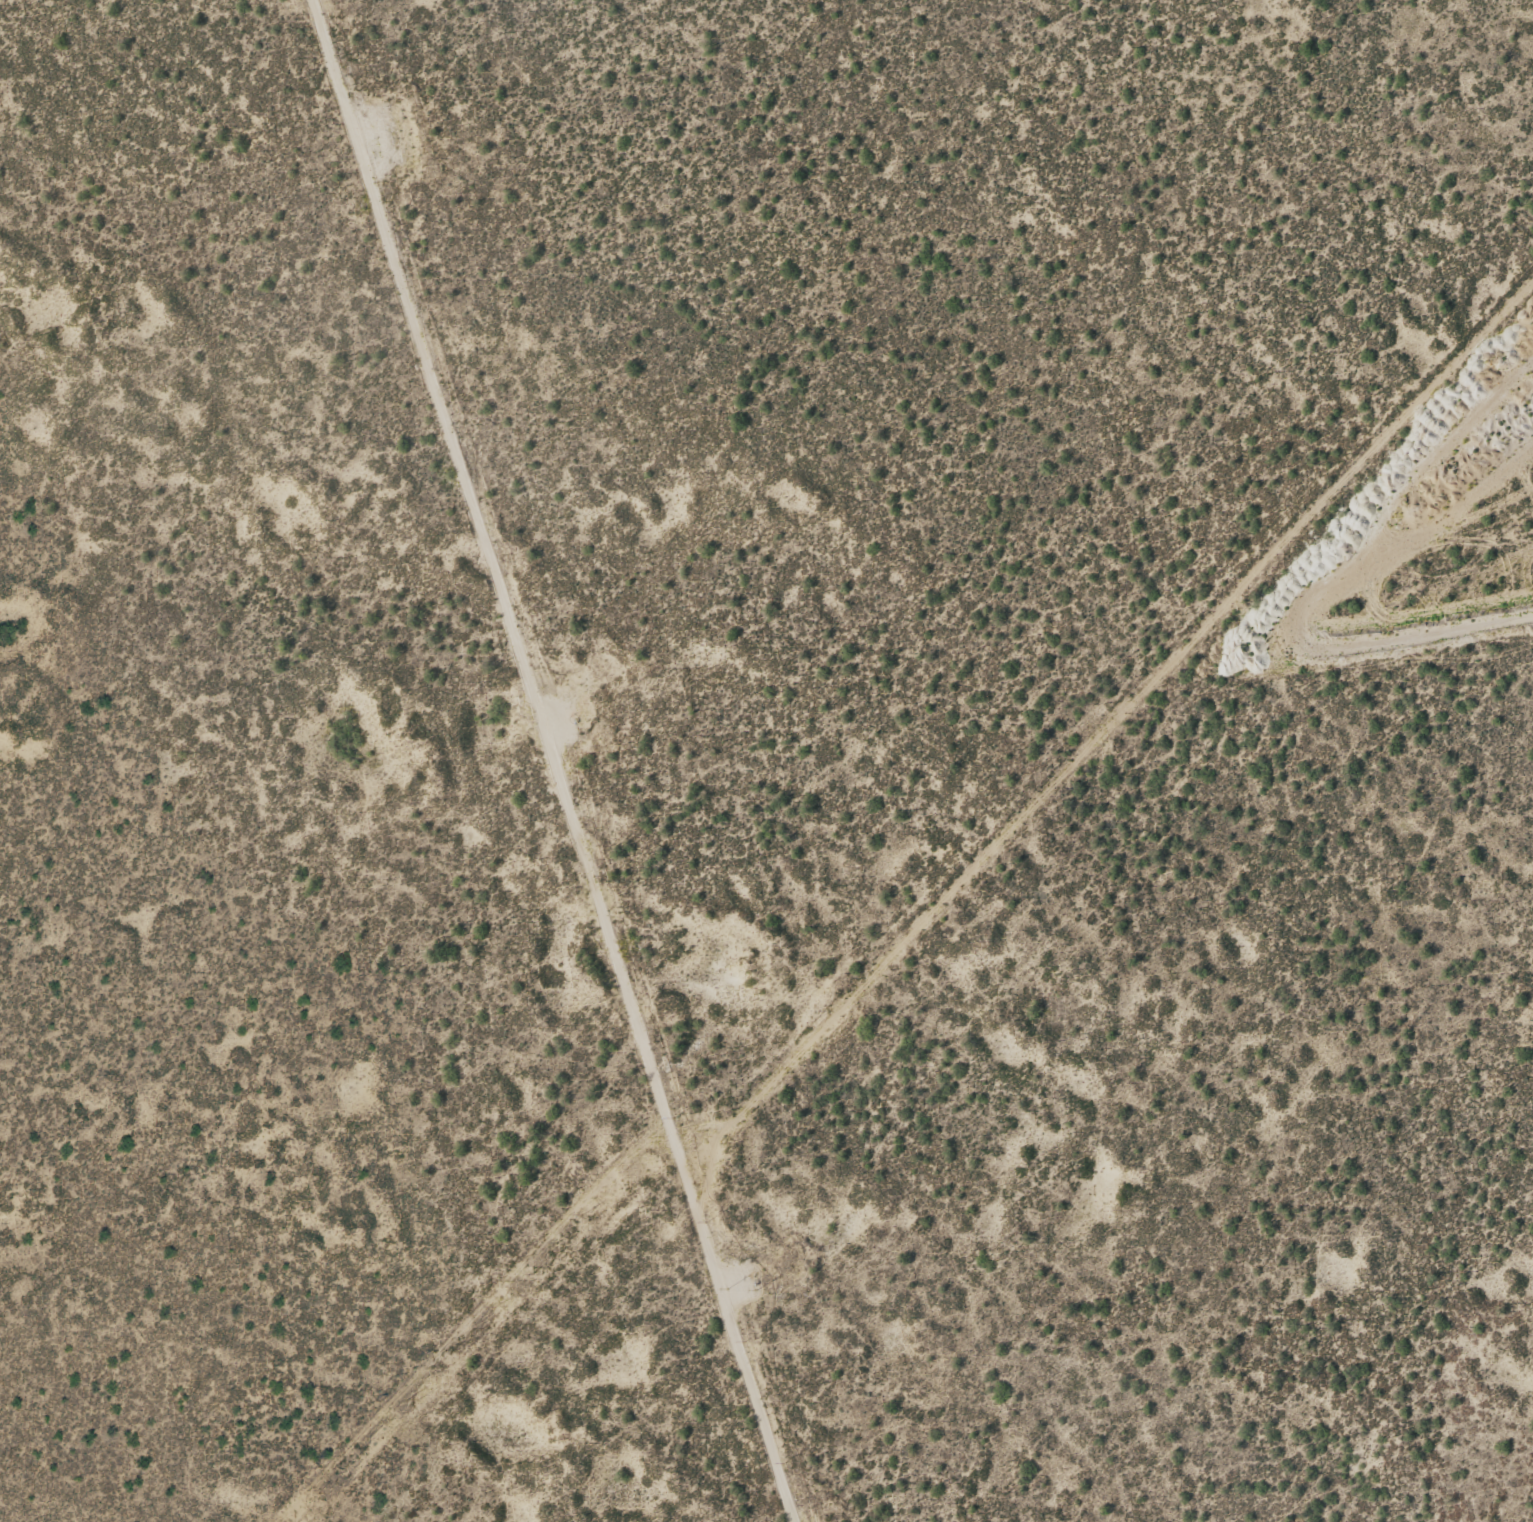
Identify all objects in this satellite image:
quarry: (1415, 874)

